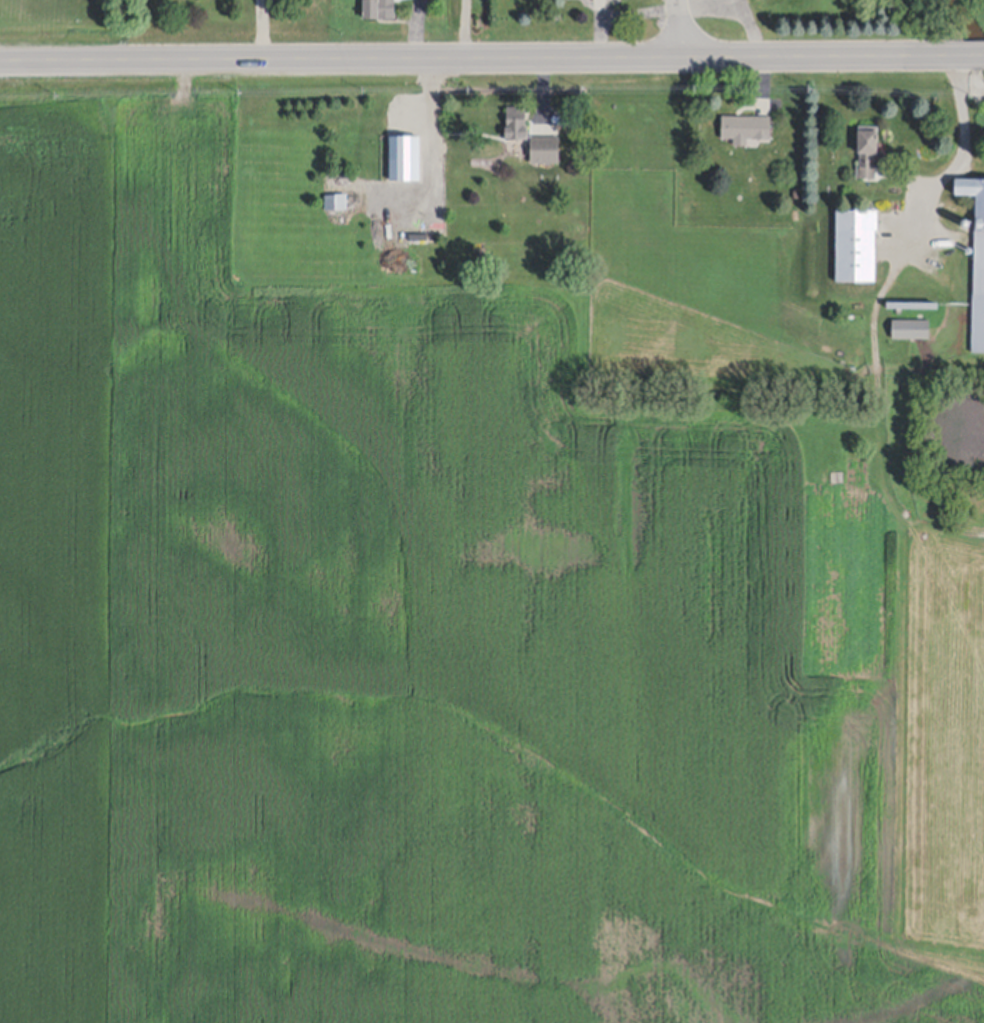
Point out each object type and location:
building: (598, 6)
building: (379, 7)
road: (682, 26)
road: (458, 27)
road: (492, 53)
building: (418, 120)
building: (516, 121)
building: (746, 126)
building: (544, 147)
building: (400, 150)
building: (868, 150)
road: (967, 156)
road: (434, 158)
building: (411, 170)
building: (418, 236)
building: (856, 242)
building: (976, 255)
building: (911, 302)
building: (910, 327)
crop: (370, 640)

